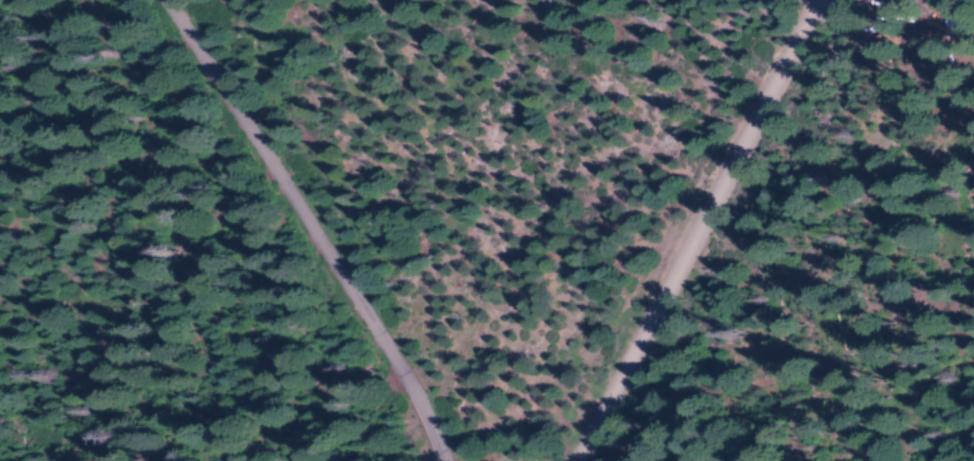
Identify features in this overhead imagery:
road: (309, 228)
road: (698, 231)

